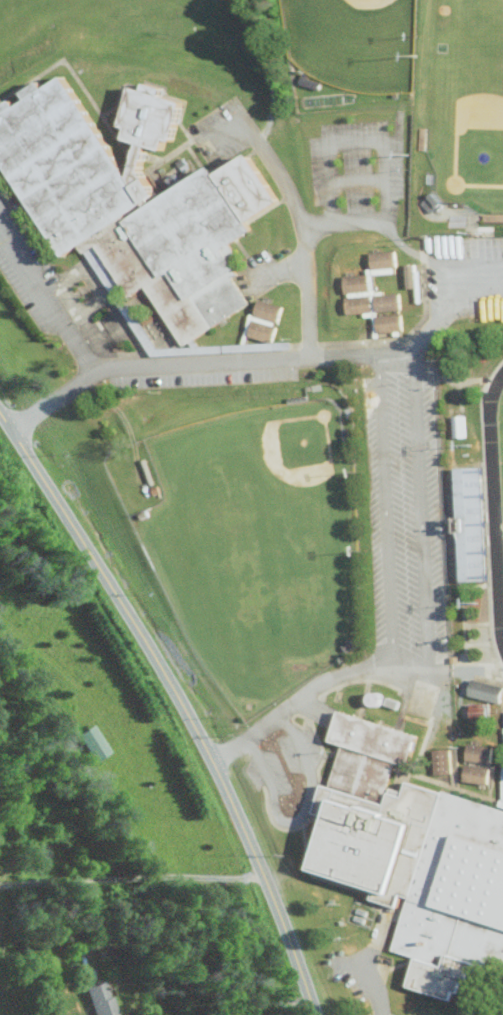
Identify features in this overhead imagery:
park: (353, 41)
road: (266, 71)
park: (463, 99)
road: (226, 130)
parking lot: (221, 132)
road: (385, 156)
parking lot: (353, 177)
building: (131, 202)
building: (381, 259)
parking lot: (27, 270)
parking lot: (465, 273)
building: (355, 283)
road: (46, 300)
building: (387, 301)
building: (357, 304)
building: (262, 310)
building: (388, 323)
building: (258, 331)
road: (306, 339)
road: (422, 341)
parking lot: (204, 371)
road: (52, 401)
building: (455, 426)
park: (500, 455)
park: (269, 487)
track: (493, 504)
road: (420, 507)
road: (384, 508)
parking lot: (405, 510)
park: (237, 544)
road: (312, 687)
building: (484, 691)
road: (183, 698)
building: (477, 713)
road: (296, 740)
building: (93, 742)
parking lot: (299, 750)
building: (477, 754)
building: (440, 762)
road: (260, 766)
parking lot: (266, 771)
building: (474, 774)
road: (299, 818)
building: (412, 856)
road: (133, 877)
road: (202, 960)
road: (372, 985)
building: (96, 998)

